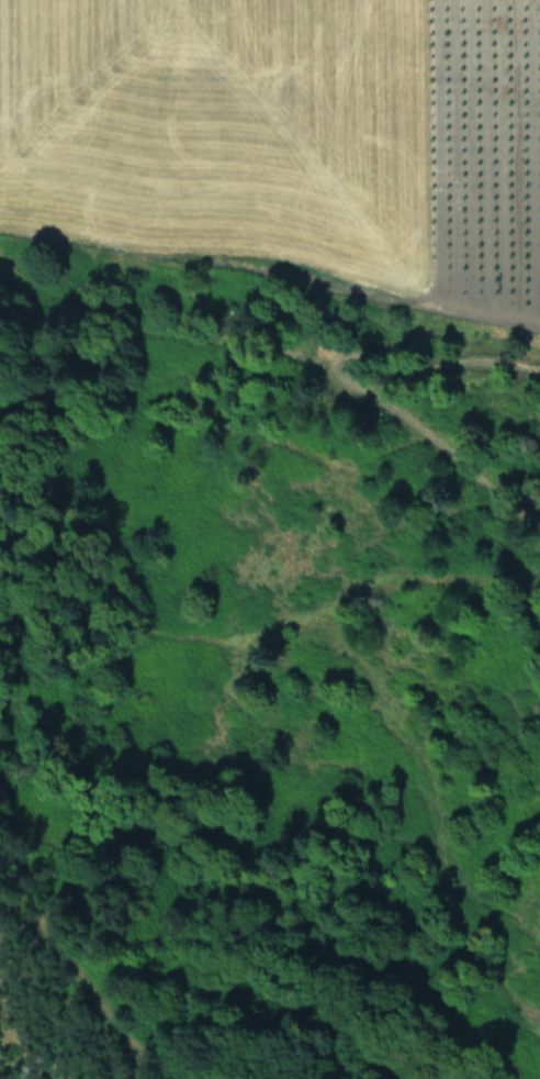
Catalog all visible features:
crop: (279, 132)

